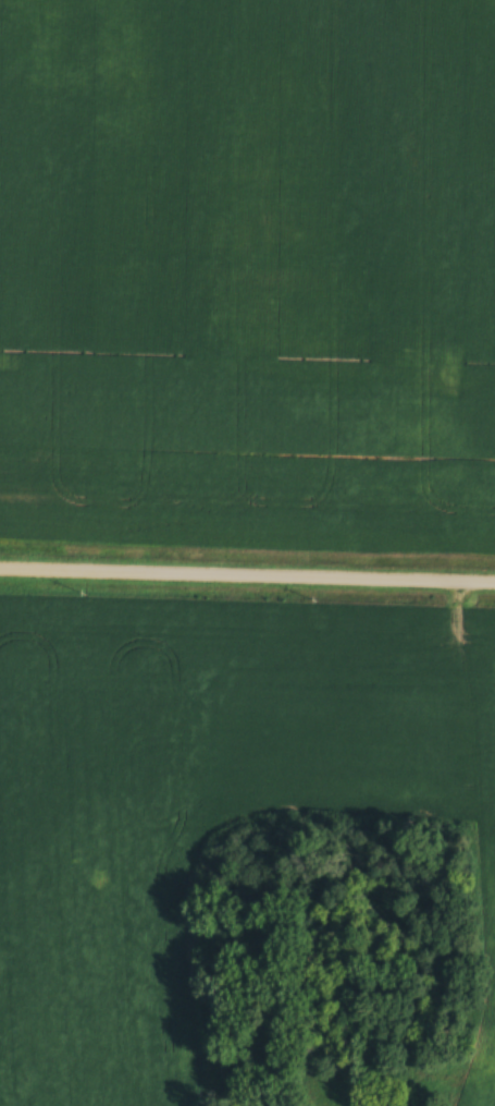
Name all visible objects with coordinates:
road: (247, 575)

